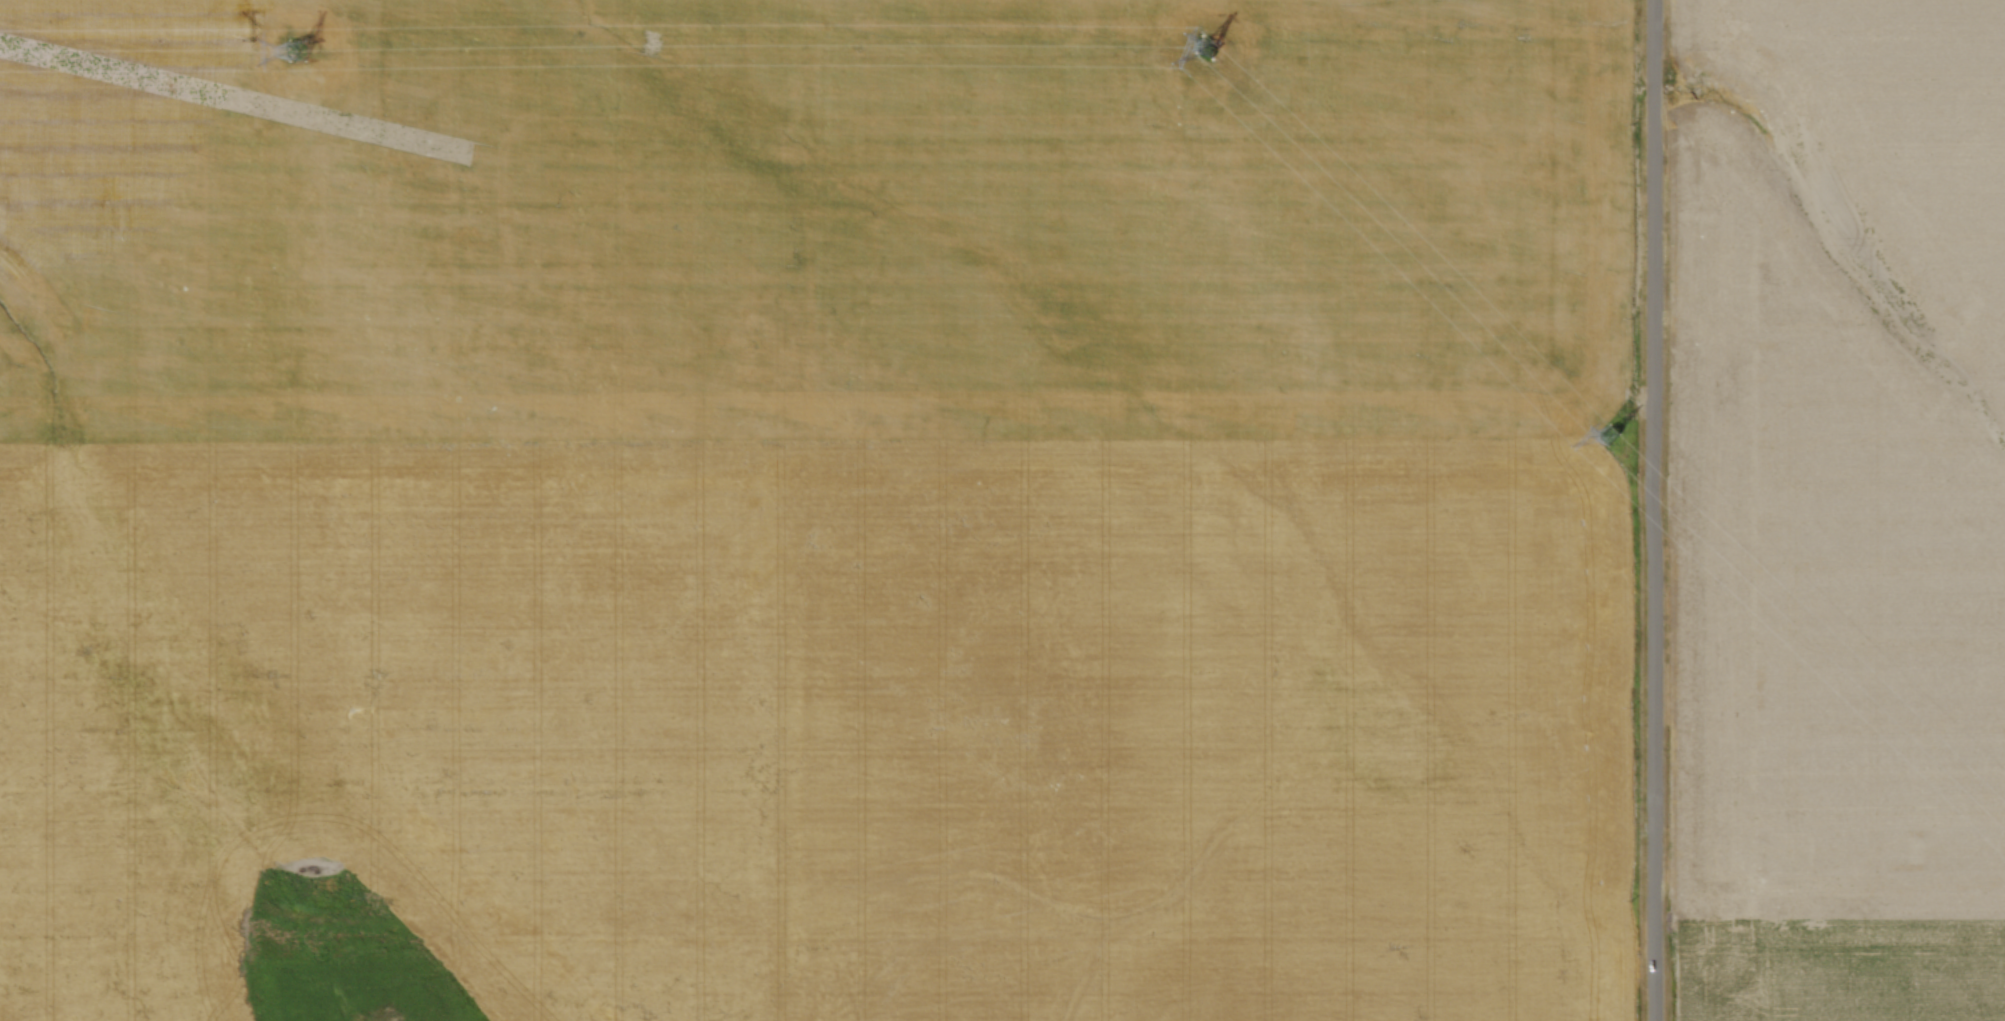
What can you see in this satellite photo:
power tower: (1207, 45)
power tower: (297, 50)
power tower: (1607, 436)
road: (1656, 510)

